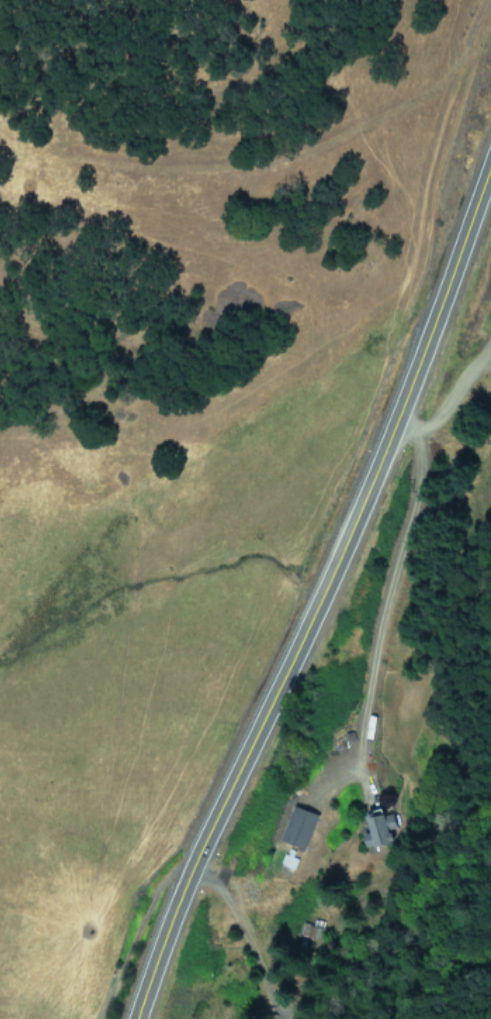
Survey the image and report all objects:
road: (448, 400)
road: (323, 585)
road: (386, 597)
crop: (118, 670)
building: (295, 828)
building: (376, 828)
building: (317, 934)
road: (243, 936)

